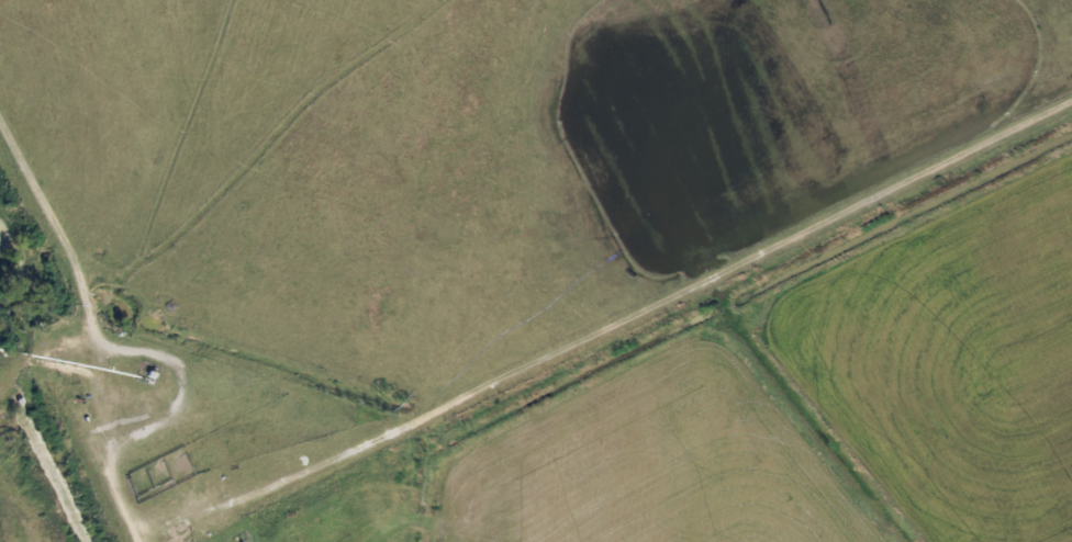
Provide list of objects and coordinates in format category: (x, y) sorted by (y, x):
road: (58, 234)
road: (613, 326)
road: (103, 397)

